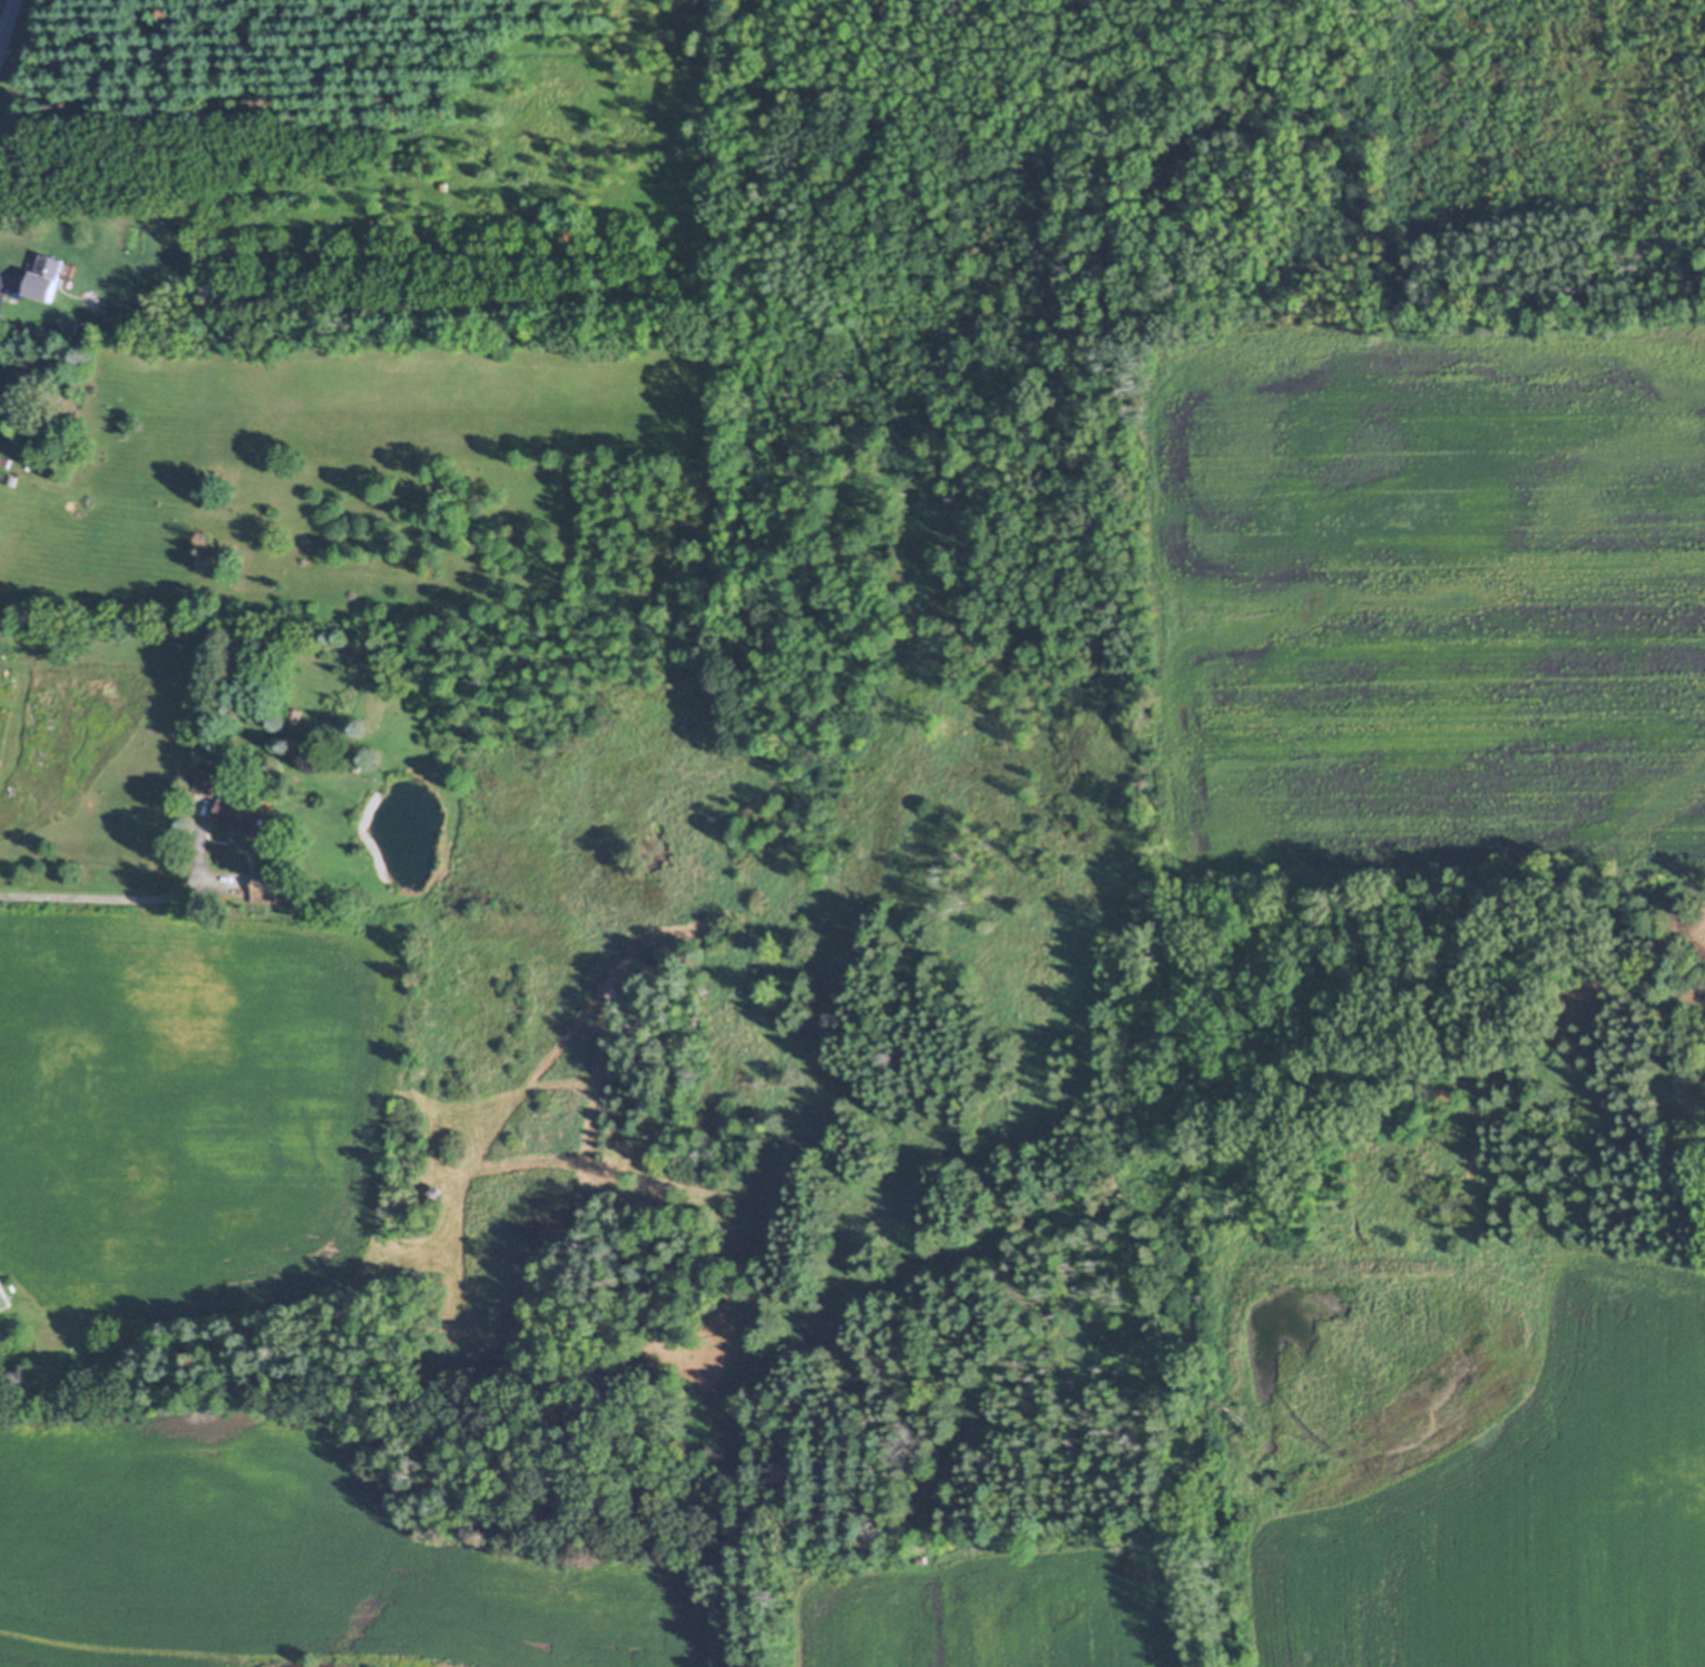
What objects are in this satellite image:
road: (7, 24)
building: (361, 203)
building: (45, 277)
building: (65, 326)
building: (7, 405)
building: (296, 714)
building: (356, 769)
building: (209, 782)
building: (239, 814)
building: (371, 830)
building: (266, 889)
road: (88, 894)
building: (437, 1192)
building: (2, 1296)
building: (48, 1373)

